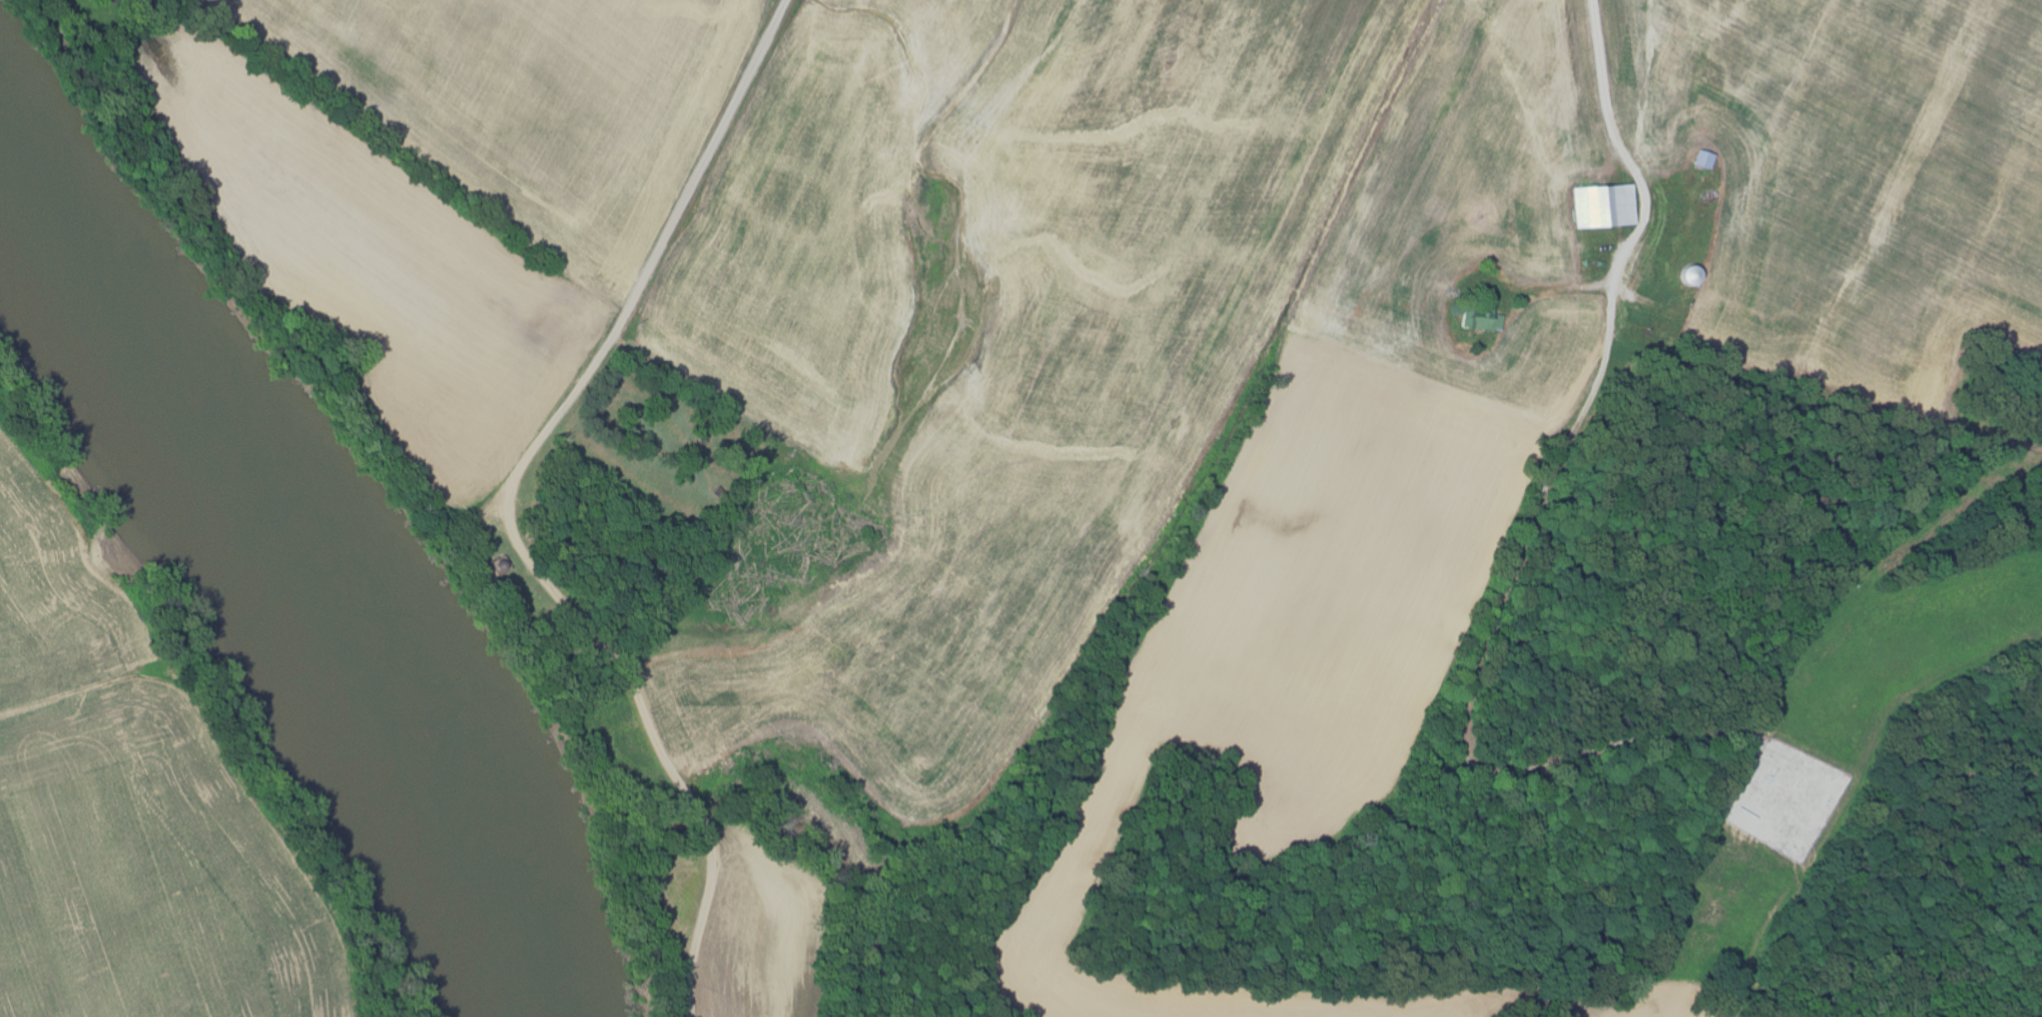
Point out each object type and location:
building: (1708, 162)
building: (1609, 207)
building: (1488, 322)
road: (591, 374)
river: (276, 571)

